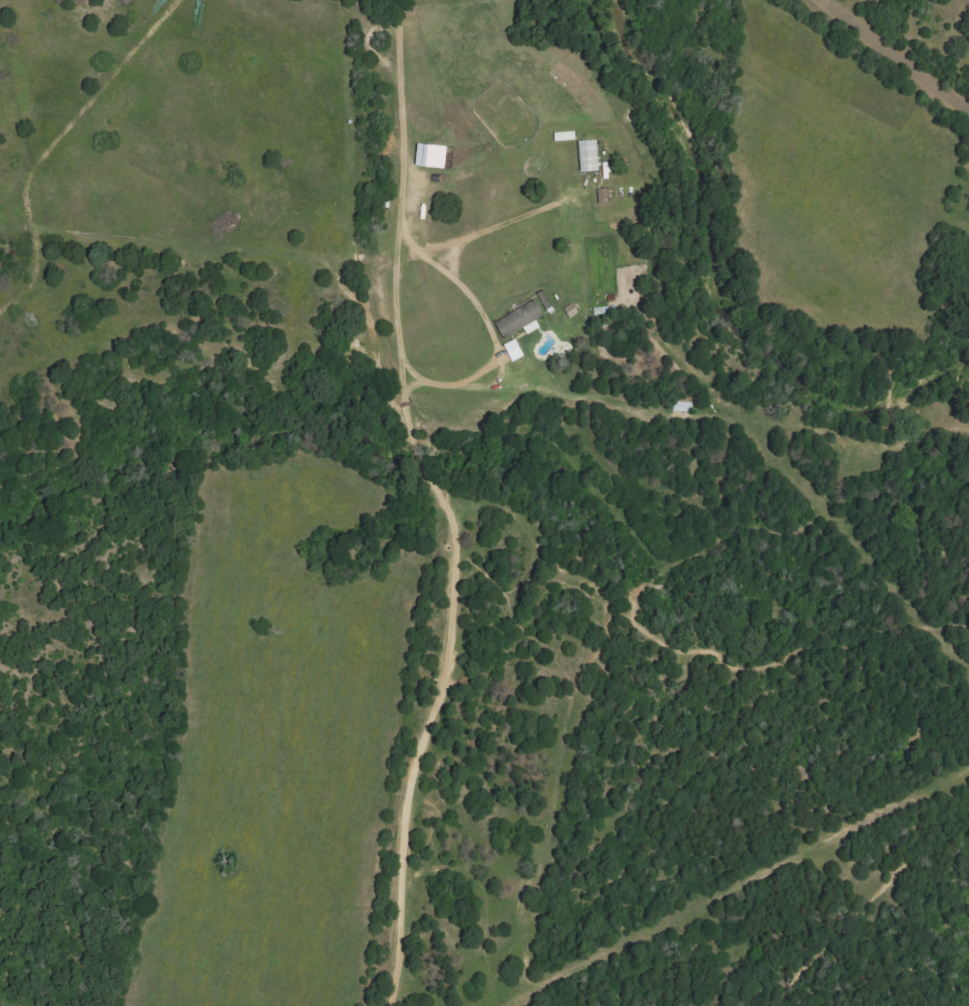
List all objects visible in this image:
road: (896, 54)
building: (436, 157)
building: (523, 321)
building: (518, 350)
road: (458, 499)

